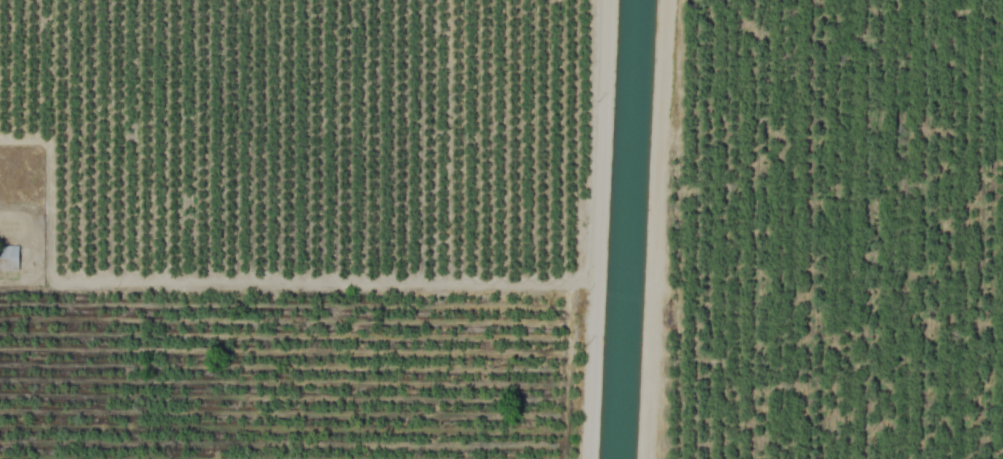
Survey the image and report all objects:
building: (9, 258)
road: (294, 274)

